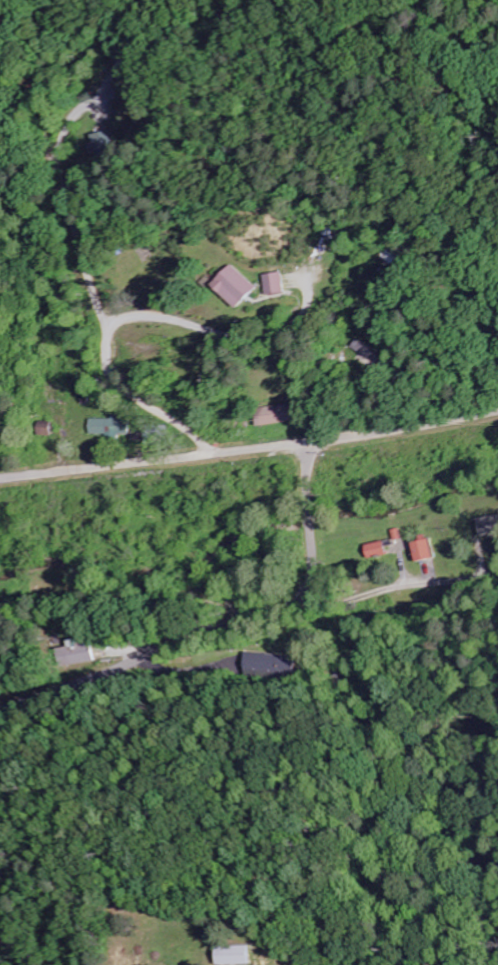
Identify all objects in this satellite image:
building: (270, 283)
building: (231, 286)
building: (271, 414)
building: (113, 426)
road: (250, 450)
road: (312, 508)
building: (490, 526)
building: (380, 549)
building: (426, 550)
road: (165, 652)
building: (85, 653)
building: (275, 666)
building: (234, 954)

